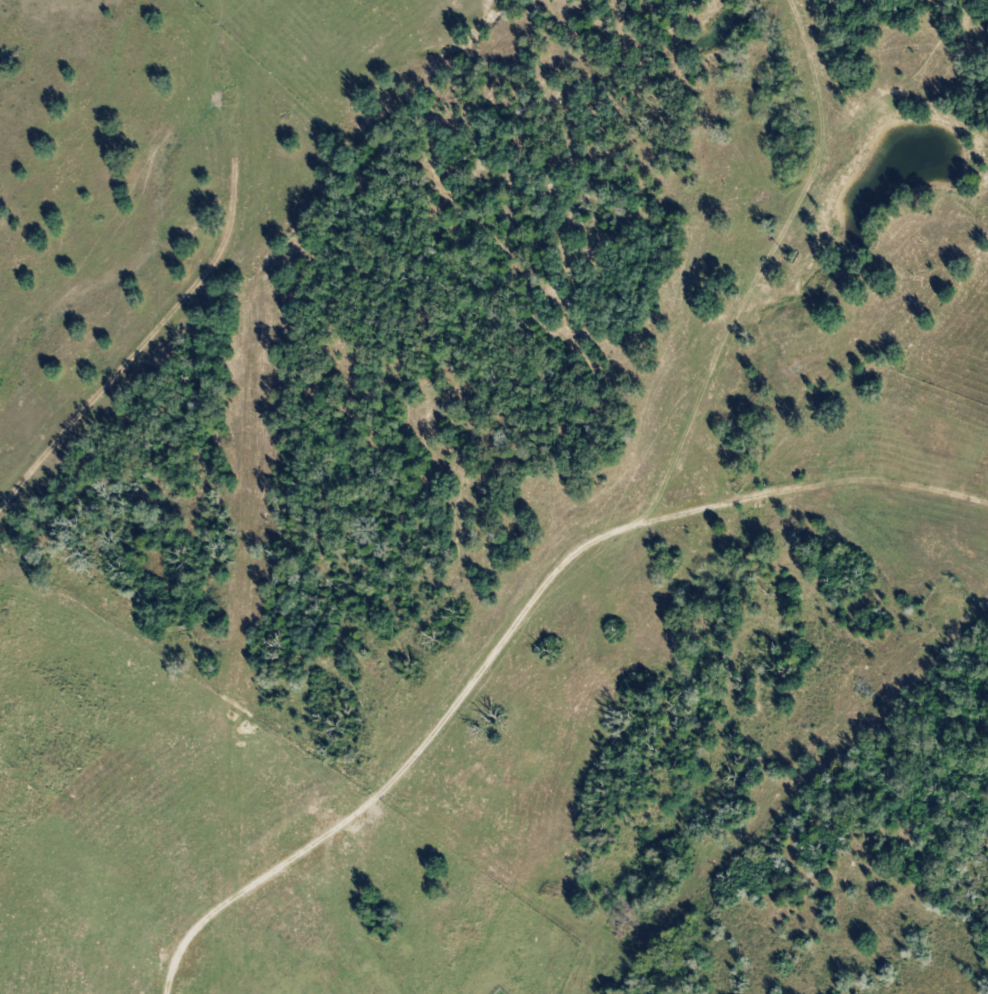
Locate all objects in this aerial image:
road: (814, 77)
road: (780, 236)
road: (484, 666)

